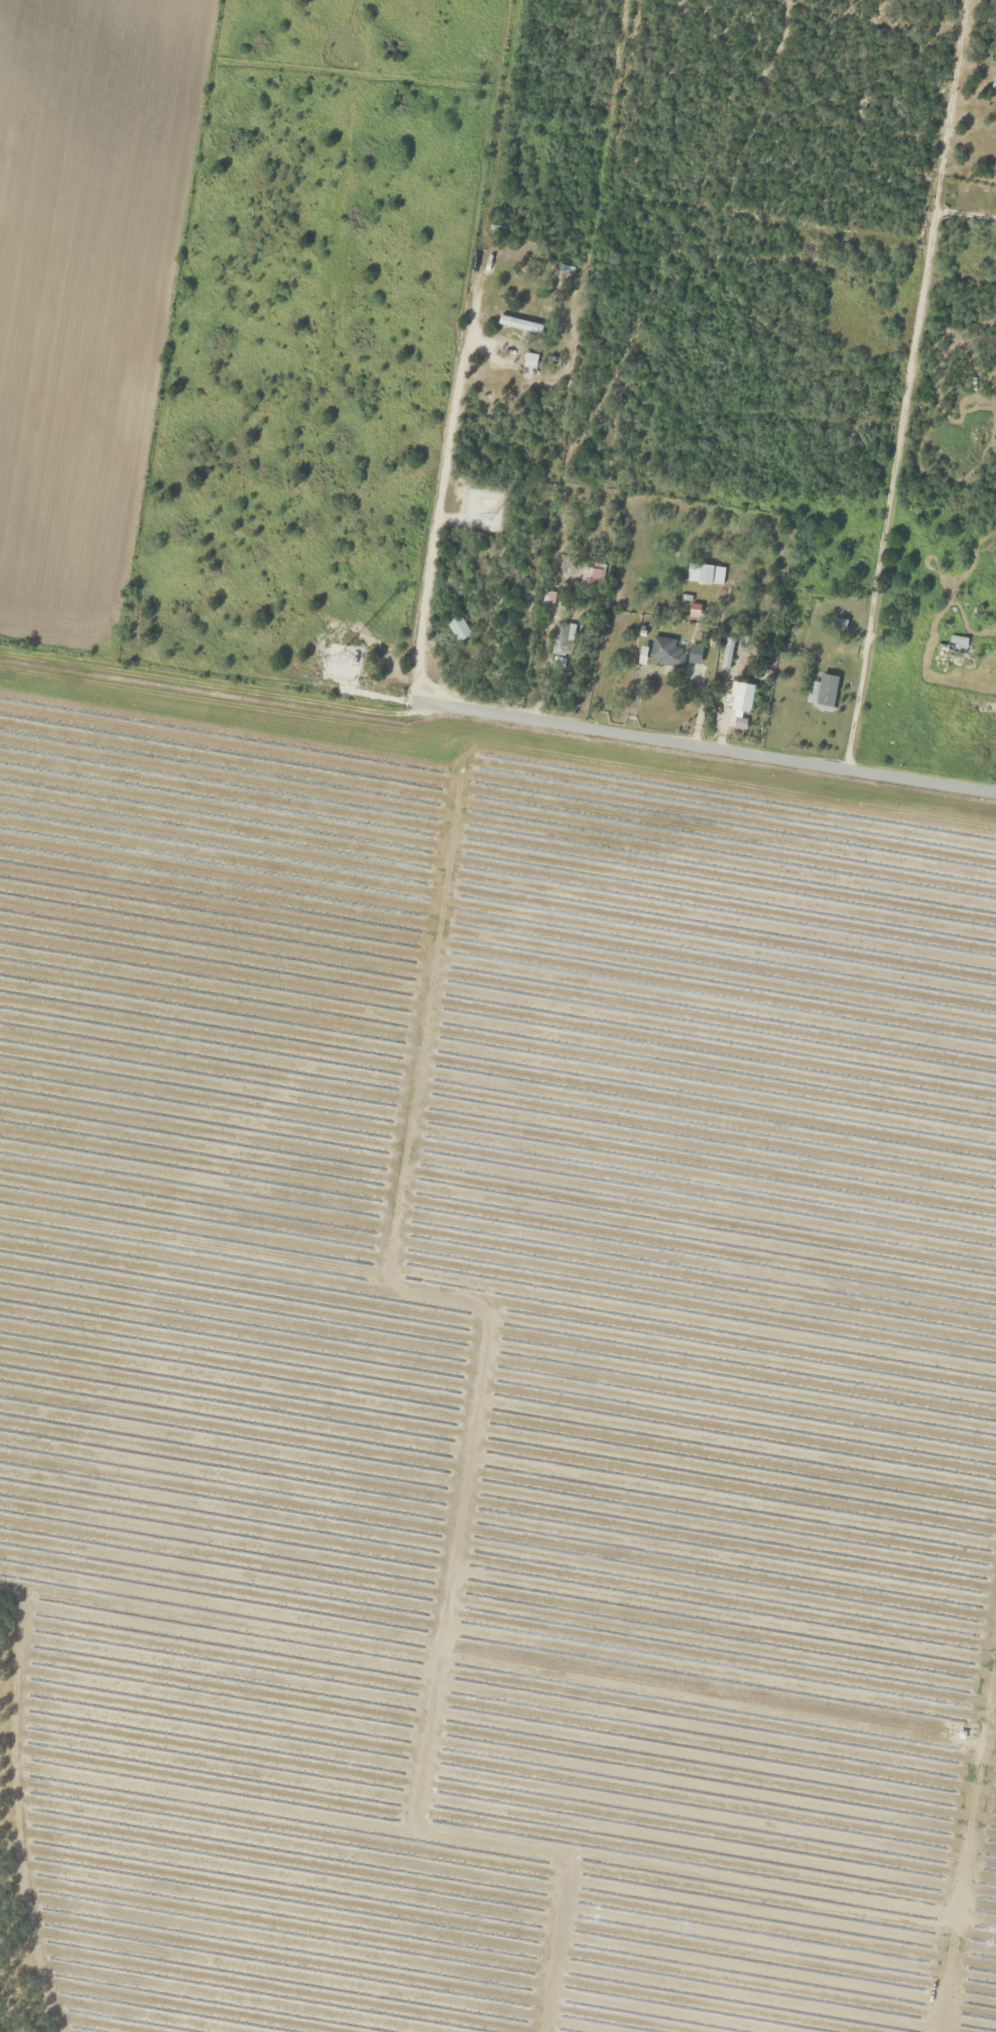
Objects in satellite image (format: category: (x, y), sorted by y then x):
building: (993, 82)
building: (519, 325)
building: (528, 365)
building: (699, 574)
building: (589, 577)
building: (458, 629)
building: (561, 640)
building: (665, 653)
building: (694, 655)
building: (953, 657)
building: (824, 693)
building: (739, 699)
road: (498, 702)

